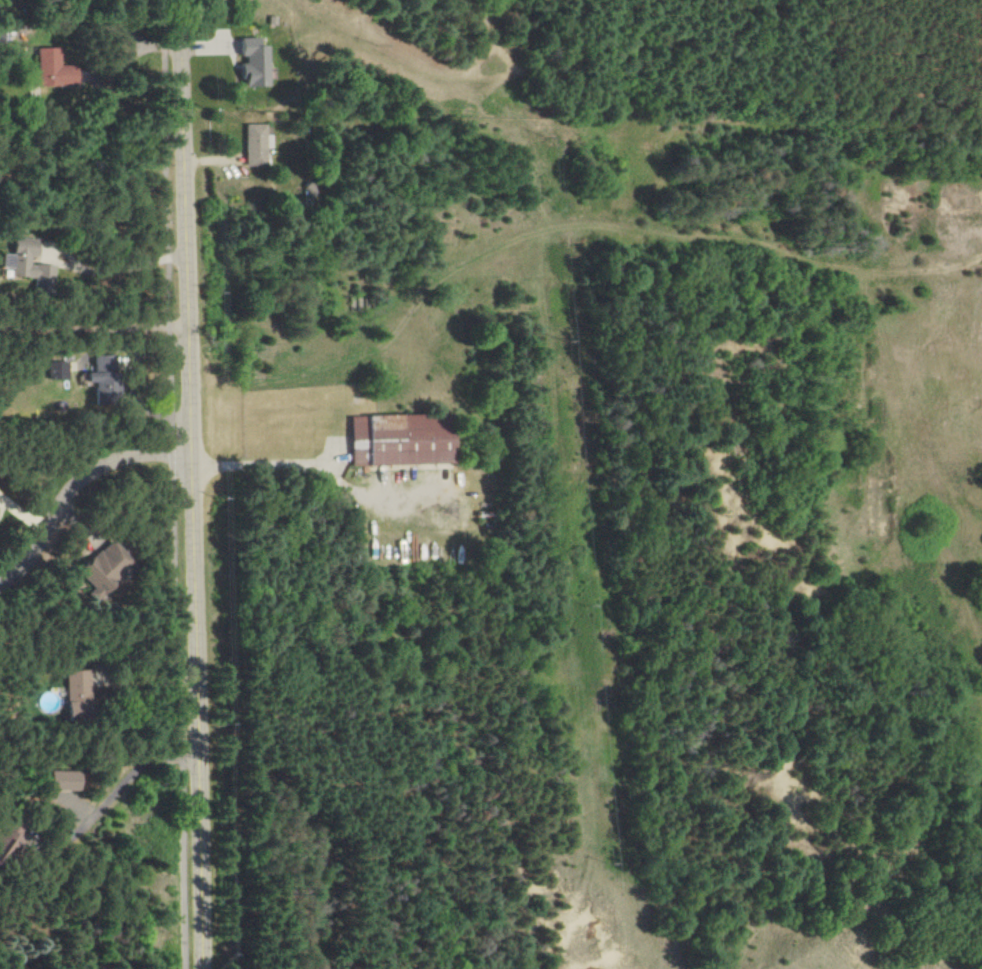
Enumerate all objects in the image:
building: (256, 63)
park: (751, 64)
building: (54, 69)
road: (907, 77)
building: (257, 145)
building: (29, 265)
road: (118, 268)
road: (95, 330)
building: (59, 370)
building: (107, 380)
building: (406, 440)
road: (321, 468)
road: (173, 484)
road: (191, 484)
road: (78, 493)
building: (106, 568)
building: (78, 693)
road: (128, 777)
building: (66, 780)
building: (9, 849)

